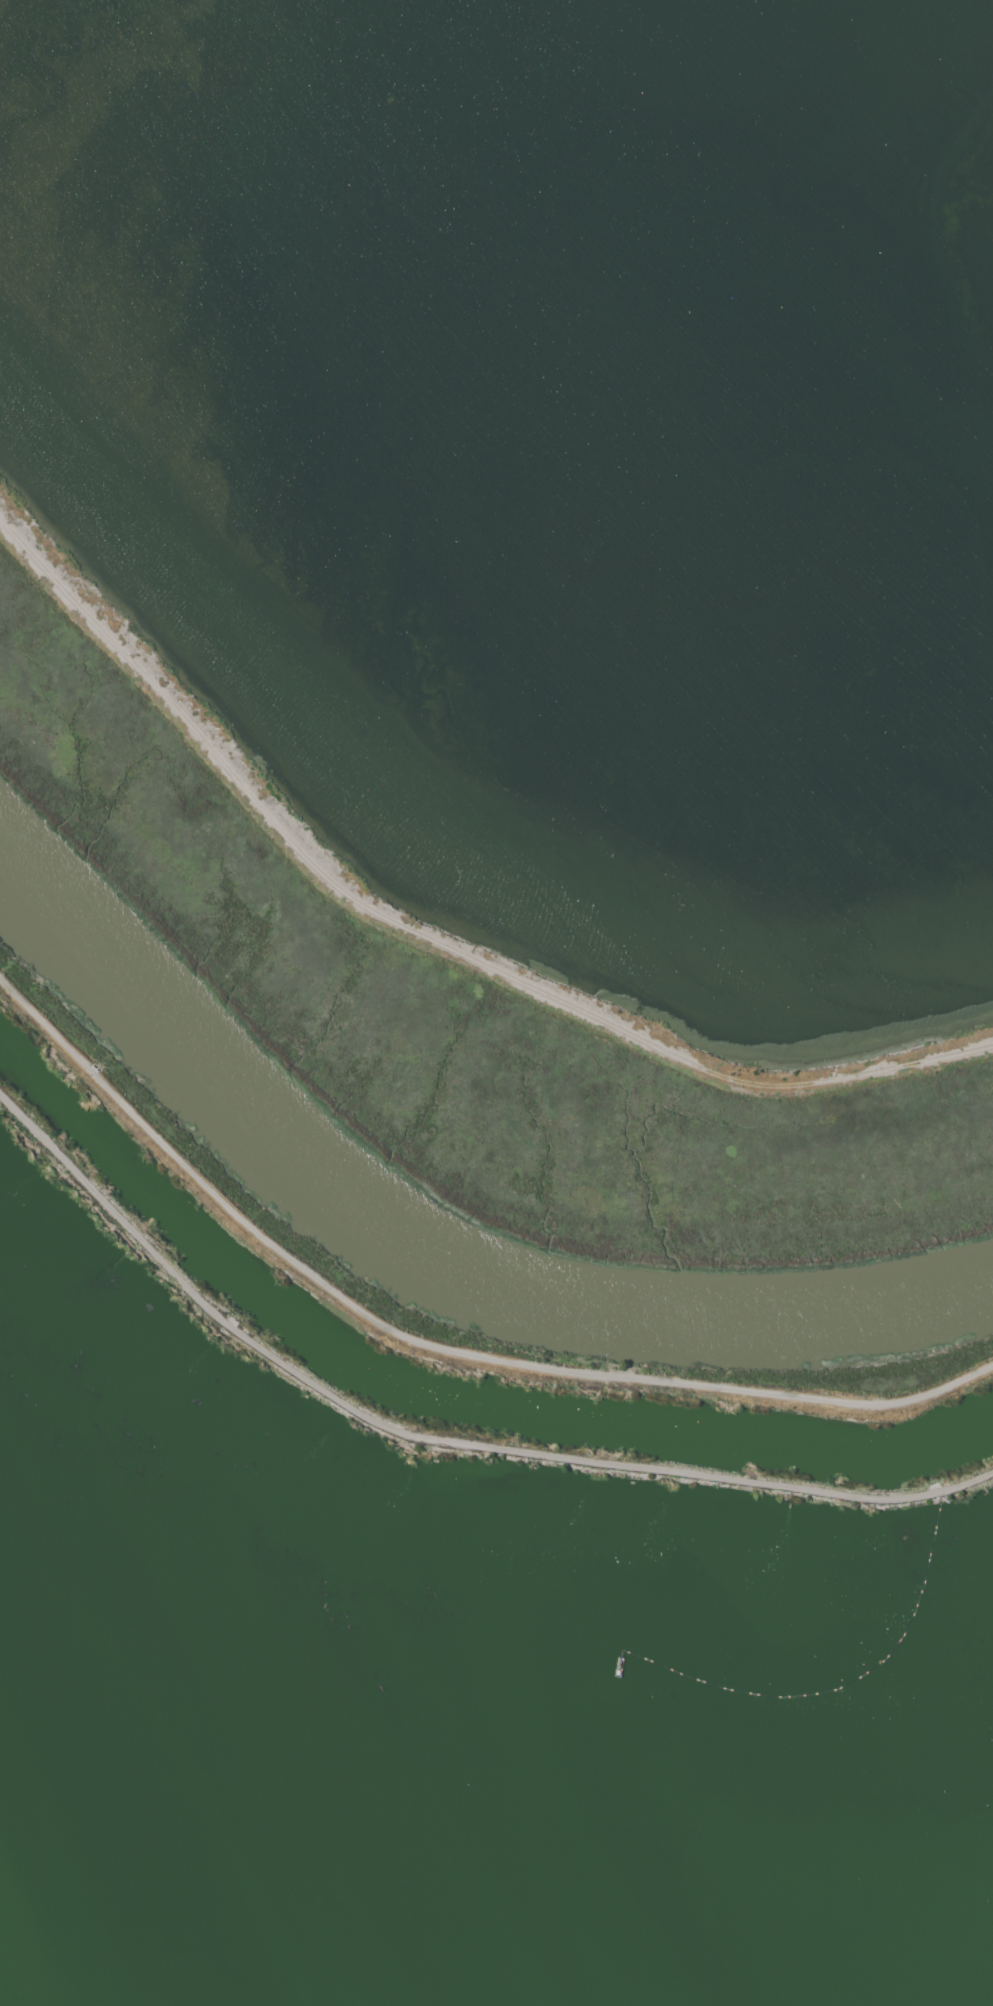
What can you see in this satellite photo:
road: (426, 938)
river: (421, 1253)
road: (429, 1346)
road: (436, 1445)

